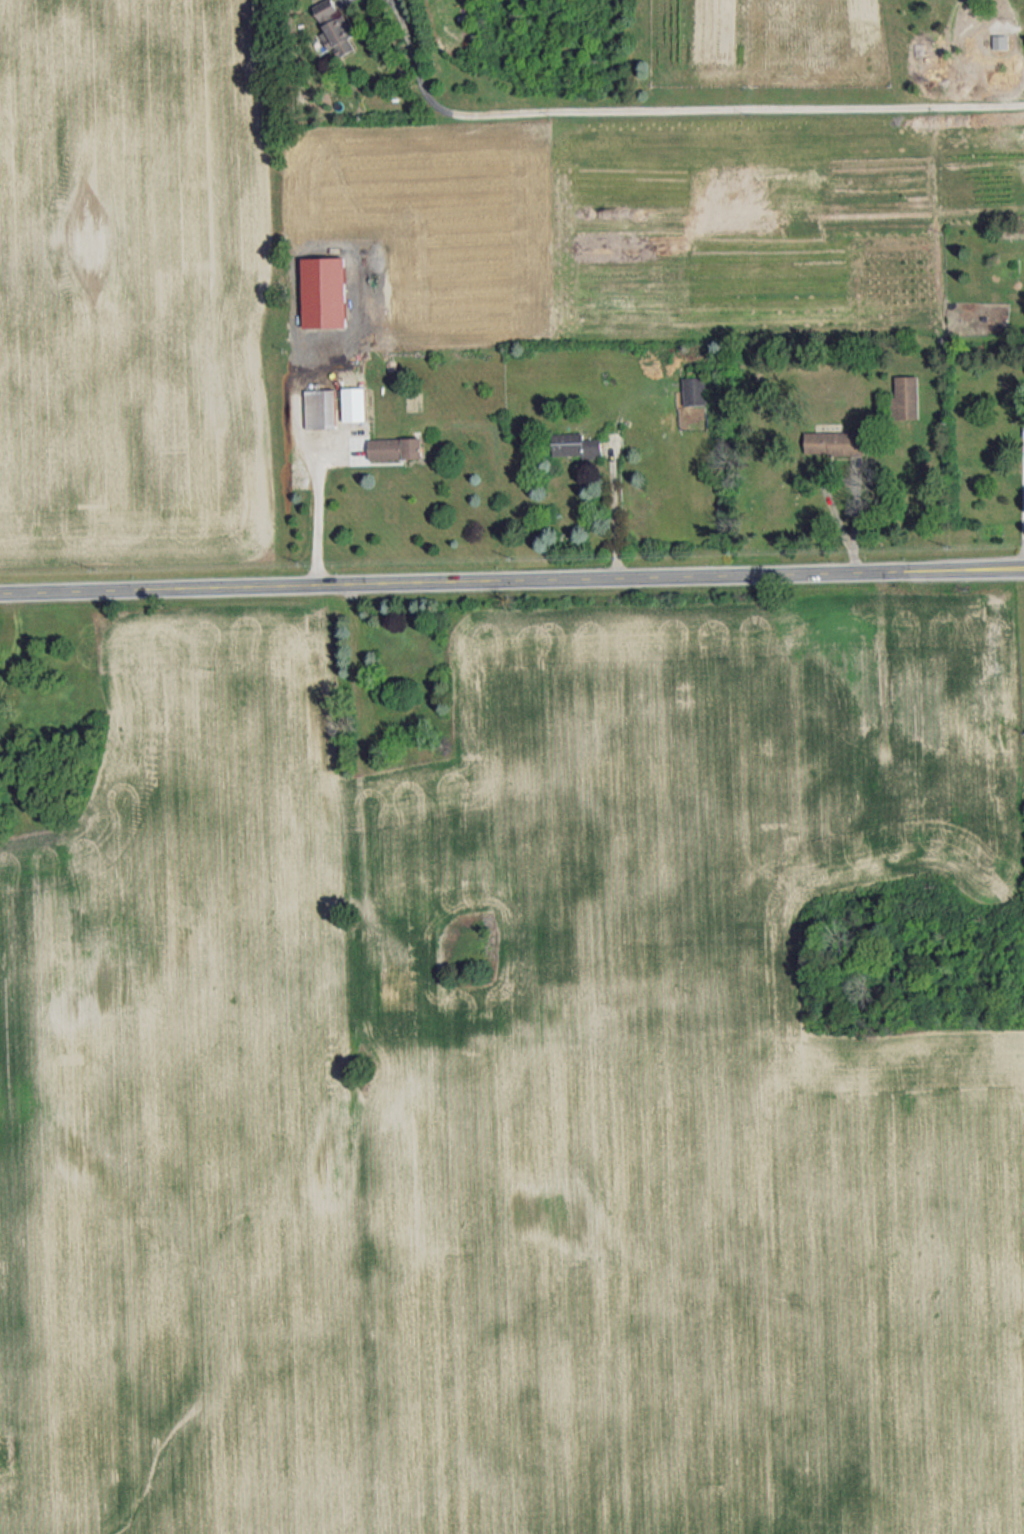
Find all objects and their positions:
building: (335, 26)
building: (1000, 40)
road: (670, 107)
crop: (653, 219)
crop: (138, 279)
building: (324, 289)
building: (695, 390)
building: (906, 396)
building: (354, 403)
building: (320, 407)
building: (834, 441)
building: (575, 444)
building: (394, 449)
road: (614, 508)
road: (318, 519)
road: (855, 520)
road: (511, 581)

